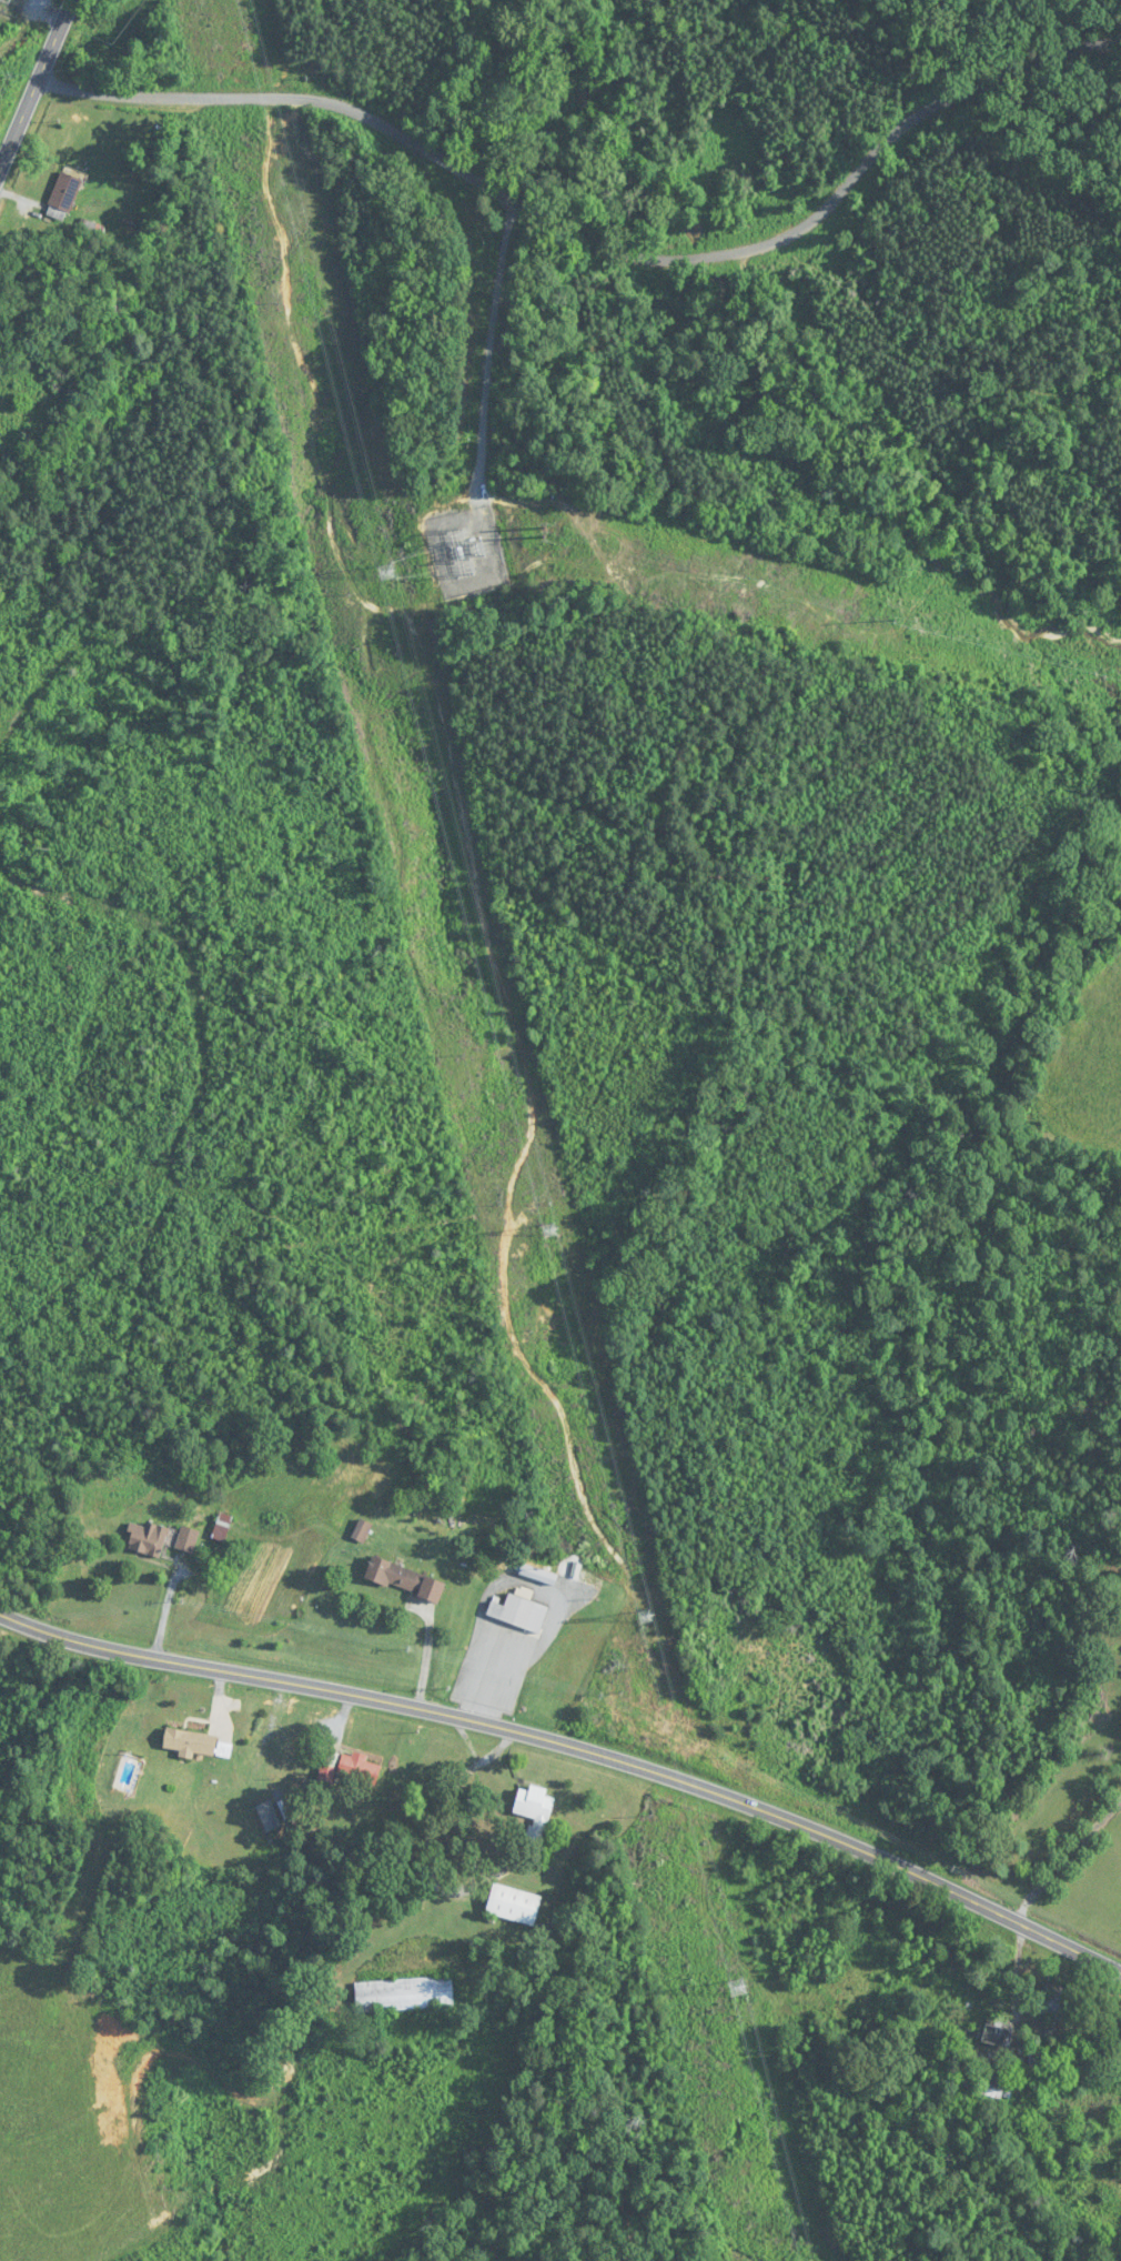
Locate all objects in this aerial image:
road: (34, 81)
building: (63, 195)
road: (588, 229)
power tower: (385, 572)
power tower: (548, 1233)
road: (27, 1328)
road: (61, 1464)
building: (221, 1527)
building: (361, 1530)
building: (147, 1539)
building: (186, 1539)
building: (537, 1575)
building: (404, 1580)
building: (519, 1612)
power tower: (645, 1612)
road: (425, 1656)
road: (154, 1720)
building: (189, 1742)
road: (575, 1748)
building: (327, 1767)
building: (358, 1769)
building: (534, 1807)
road: (1064, 1859)
building: (513, 1905)
power tower: (737, 1986)
building: (403, 1994)
building: (1054, 2001)
building: (994, 2038)
building: (996, 2084)

